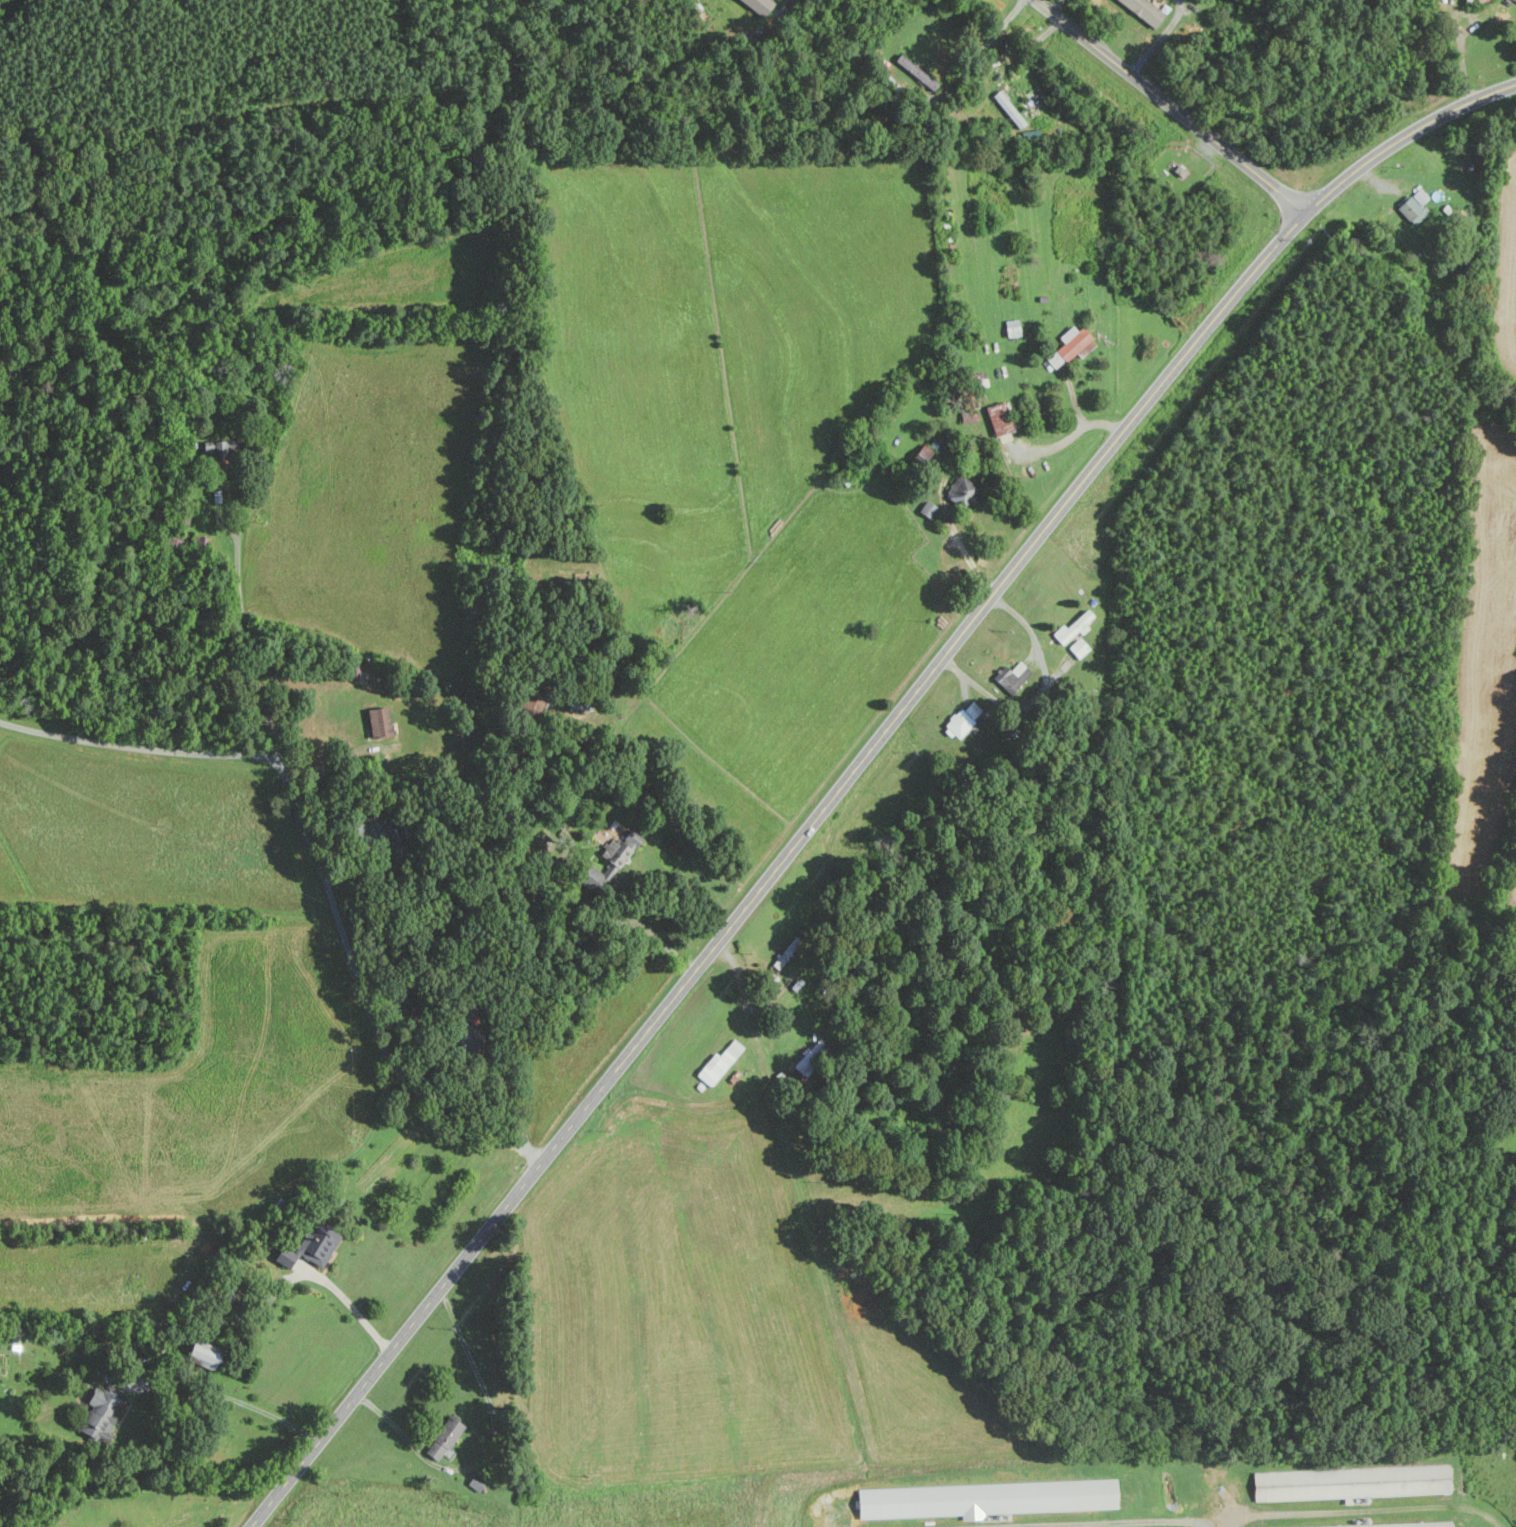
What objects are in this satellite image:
building: (1466, 0)
building: (1515, 0)
road: (788, 3)
building: (758, 6)
road: (1055, 6)
building: (1143, 10)
road: (1455, 35)
road: (1159, 38)
road: (986, 44)
road: (1023, 52)
building: (916, 72)
road: (1168, 106)
building: (1009, 109)
building: (1414, 208)
building: (1012, 329)
building: (1066, 347)
building: (999, 419)
building: (218, 450)
building: (920, 458)
road: (960, 546)
building: (1072, 627)
building: (1078, 647)
road: (1042, 694)
building: (972, 709)
building: (378, 721)
building: (959, 723)
road: (143, 746)
road: (854, 771)
building: (614, 859)
road: (324, 878)
road: (655, 939)
building: (718, 1063)
road: (815, 1243)
building: (308, 1247)
road: (347, 1305)
building: (203, 1355)
road: (215, 1392)
building: (100, 1414)
building: (443, 1438)
road: (490, 1450)
building: (1351, 1482)
building: (986, 1499)
road: (1365, 1510)
road: (1149, 1523)

